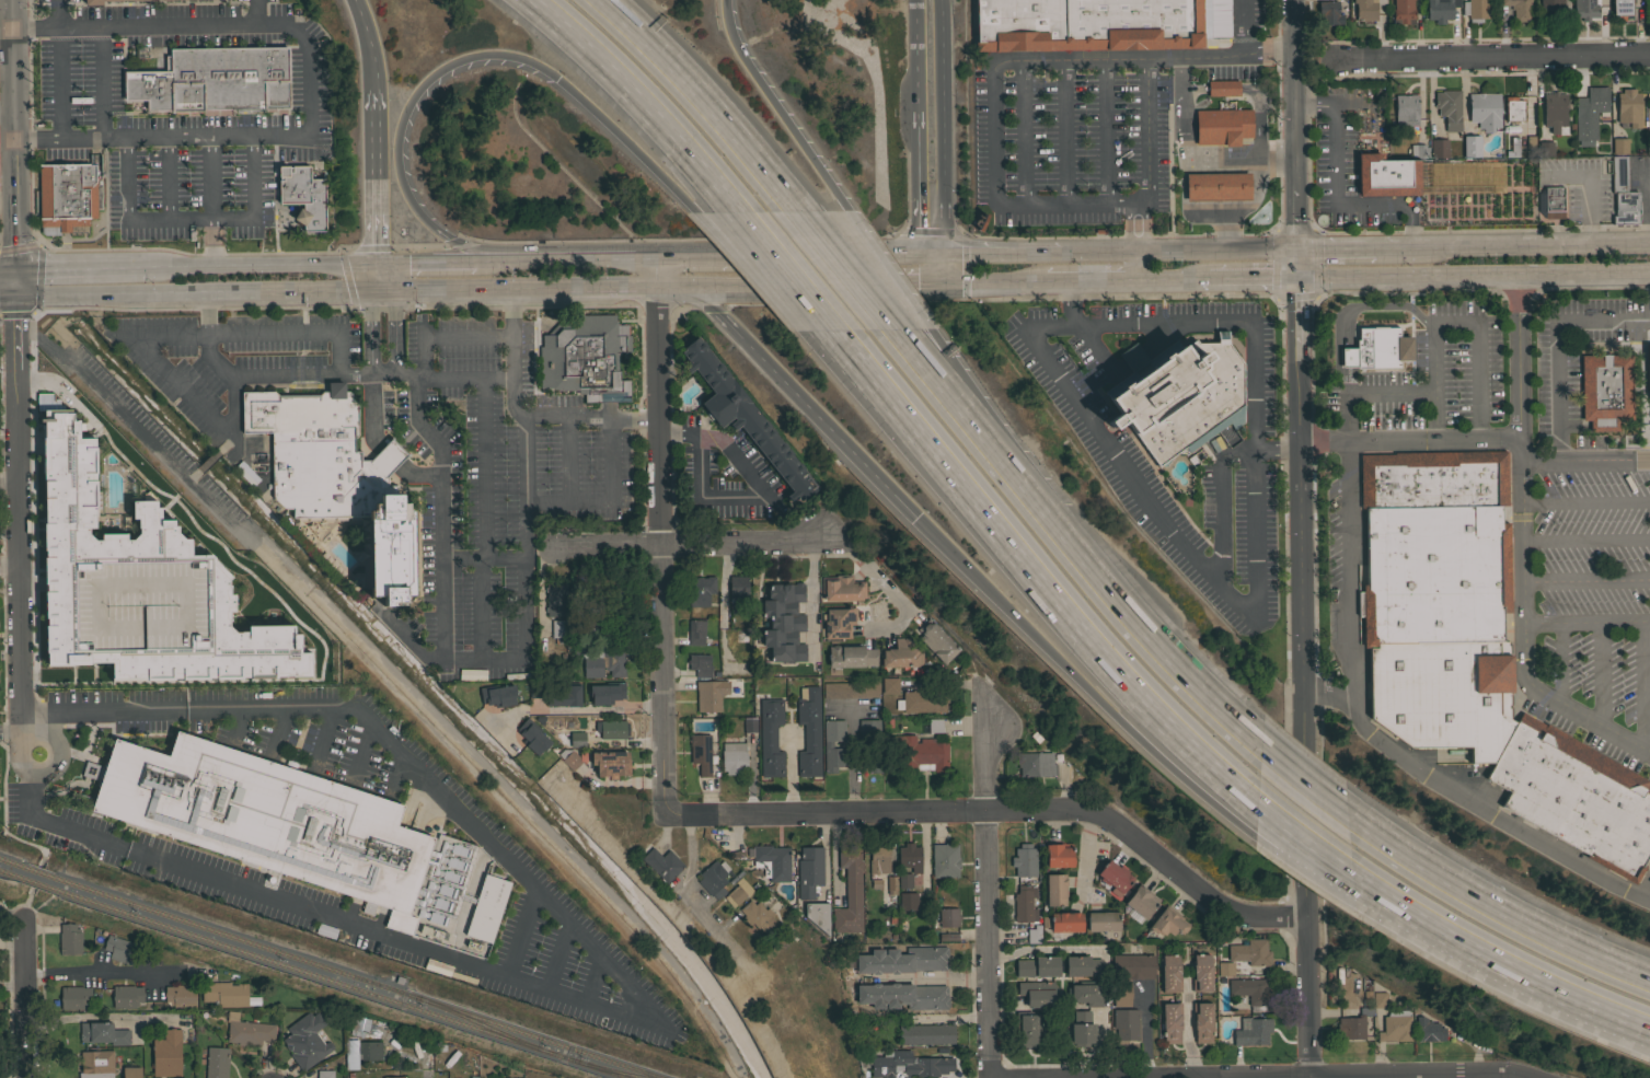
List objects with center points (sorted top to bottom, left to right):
building: (176, 0)
building: (80, 4)
building: (1622, 8)
building: (1366, 9)
building: (1519, 9)
building: (1584, 9)
building: (1440, 10)
building: (1475, 10)
building: (1550, 10)
road: (257, 11)
building: (1403, 11)
road: (56, 12)
building: (1328, 12)
building: (1649, 12)
building: (1086, 24)
road: (1244, 25)
road: (297, 30)
road: (369, 43)
road: (1219, 55)
road: (1490, 58)
road: (452, 60)
road: (914, 63)
road: (1047, 63)
traffic signals: (556, 77)
road: (99, 80)
building: (214, 80)
road: (56, 81)
building: (1222, 88)
road: (641, 100)
road: (702, 102)
building: (1628, 107)
road: (776, 108)
building: (1449, 108)
building: (1512, 108)
building: (1649, 108)
building: (1406, 109)
building: (1484, 111)
building: (1589, 112)
building: (1554, 113)
road: (7, 115)
road: (939, 126)
building: (1221, 126)
road: (14, 135)
road: (189, 135)
building: (1470, 146)
building: (1619, 146)
building: (1649, 146)
building: (1438, 148)
building: (1512, 148)
building: (1544, 148)
building: (1418, 150)
road: (373, 175)
building: (1385, 175)
road: (210, 176)
road: (165, 177)
building: (1209, 186)
gas station: (1218, 186)
road: (127, 187)
road: (1586, 188)
road: (918, 189)
building: (1476, 192)
building: (1623, 193)
building: (68, 195)
building: (303, 195)
road: (1331, 198)
building: (1553, 201)
road: (1523, 246)
road: (1335, 248)
road: (1384, 248)
road: (1216, 250)
traffic signals: (1297, 250)
road: (1095, 251)
road: (999, 252)
road: (695, 253)
road: (840, 253)
traffic signals: (942, 253)
traffic signals: (919, 254)
road: (591, 256)
road: (501, 258)
road: (424, 260)
road: (332, 263)
traffic signals: (374, 263)
road: (219, 264)
road: (82, 267)
road: (919, 268)
road: (942, 268)
road: (8, 270)
traffic signals: (16, 270)
road: (787, 271)
road: (842, 271)
road: (887, 271)
road: (749, 273)
road: (1474, 277)
road: (377, 278)
road: (1251, 279)
traffic signals: (1297, 279)
road: (1170, 280)
road: (1129, 281)
road: (16, 282)
road: (1083, 282)
road: (893, 283)
traffic signals: (920, 283)
road: (931, 283)
traffic signals: (942, 283)
road: (992, 283)
road: (824, 285)
road: (717, 286)
road: (619, 287)
road: (482, 290)
road: (1476, 292)
road: (8, 293)
road: (155, 293)
road: (337, 293)
traffic signals: (379, 293)
traffic signals: (16, 294)
road: (1068, 303)
road: (1353, 305)
road: (1455, 322)
road: (394, 331)
road: (367, 332)
road: (292, 333)
road: (426, 334)
road: (59, 339)
road: (1557, 344)
building: (1376, 349)
building: (584, 355)
road: (210, 358)
building: (1647, 368)
road: (469, 376)
building: (1605, 390)
road: (1366, 391)
building: (1178, 395)
road: (804, 401)
road: (948, 401)
road: (970, 401)
road: (201, 407)
road: (522, 418)
building: (743, 418)
road: (889, 418)
road: (423, 426)
road: (139, 430)
road: (1410, 438)
road: (224, 443)
road: (1277, 451)
road: (209, 459)
road: (1584, 459)
road: (523, 460)
road: (565, 460)
road: (9, 472)
road: (193, 473)
building: (336, 476)
building: (1432, 479)
road: (765, 495)
road: (1312, 499)
road: (1585, 501)
traffic signals: (915, 517)
road: (482, 518)
road: (658, 532)
road: (1302, 538)
road: (1585, 538)
road: (693, 544)
road: (1522, 549)
road: (1508, 557)
road: (483, 558)
road: (9, 565)
road: (1347, 570)
building: (1433, 575)
road: (1037, 576)
road: (1256, 576)
road: (19, 578)
road: (1586, 579)
building: (621, 580)
building: (138, 587)
road: (885, 587)
building: (842, 588)
building: (701, 590)
building: (738, 593)
road: (812, 596)
building: (555, 599)
parking lot: (1583, 599)
road: (720, 604)
road: (1129, 612)
building: (607, 619)
road: (1586, 621)
building: (784, 622)
building: (836, 623)
building: (557, 631)
building: (695, 631)
building: (740, 635)
building: (934, 641)
building: (577, 648)
building: (899, 654)
building: (850, 657)
road: (1057, 658)
road: (503, 659)
road: (1560, 661)
building: (699, 663)
building: (613, 664)
building: (591, 668)
road: (1600, 672)
building: (81, 675)
building: (889, 684)
road: (1641, 685)
building: (535, 688)
building: (851, 689)
building: (604, 693)
building: (713, 693)
building: (497, 694)
building: (1443, 694)
building: (565, 696)
building: (889, 703)
building: (920, 703)
road: (581, 707)
building: (749, 725)
building: (933, 726)
building: (611, 729)
building: (808, 730)
road: (275, 731)
road: (9, 732)
building: (531, 737)
building: (770, 738)
building: (575, 740)
building: (870, 741)
building: (828, 744)
road: (358, 750)
road: (395, 750)
building: (700, 752)
building: (923, 754)
building: (732, 757)
building: (567, 758)
road: (853, 758)
building: (609, 764)
building: (1035, 764)
road: (789, 770)
road: (1304, 781)
building: (1574, 796)
road: (505, 804)
road: (1466, 807)
road: (1, 810)
road: (1005, 810)
building: (265, 816)
road: (1307, 843)
road: (1082, 854)
building: (1058, 855)
building: (909, 856)
building: (878, 859)
building: (773, 860)
building: (945, 860)
building: (1024, 860)
building: (662, 863)
building: (809, 870)
building: (1114, 877)
building: (713, 878)
building: (904, 880)
building: (891, 884)
building: (849, 890)
building: (1054, 890)
building: (738, 892)
road: (990, 893)
road: (692, 897)
building: (907, 901)
building: (1141, 901)
building: (1023, 902)
road: (1496, 903)
building: (757, 915)
building: (817, 915)
road: (11, 917)
road: (22, 917)
building: (948, 917)
road: (327, 918)
building: (1101, 920)
building: (1062, 921)
building: (1168, 921)
building: (1032, 935)
building: (944, 938)
building: (69, 939)
building: (119, 949)
building: (1250, 952)
building: (902, 960)
road: (1502, 961)
building: (1082, 965)
building: (1037, 966)
building: (1132, 966)
railway: (331, 967)
building: (1225, 969)
road: (100, 970)
railway: (314, 973)
building: (1201, 973)
building: (1168, 974)
road: (924, 978)
building: (1037, 993)
building: (1250, 993)
building: (224, 994)
building: (1084, 994)
building: (1121, 994)
building: (180, 995)
building: (126, 996)
building: (902, 996)
building: (74, 997)
building: (1161, 999)
building: (1378, 999)
road: (22, 1001)
road: (99, 1018)
building: (1201, 1021)
building: (1169, 1022)
building: (1124, 1023)
building: (358, 1024)
building: (1350, 1025)
building: (1395, 1025)
road: (1187, 1027)
building: (1026, 1029)
building: (1082, 1029)
building: (247, 1030)
building: (1428, 1030)
building: (1251, 1031)
building: (102, 1033)
building: (925, 1033)
building: (305, 1040)
building: (369, 1050)
building: (166, 1053)
building: (216, 1062)
building: (905, 1063)
building: (96, 1064)
building: (131, 1073)
building: (324, 1074)
road: (1266, 1074)
road: (992, 1075)
road: (429, 1076)
building: (393, 1077)

